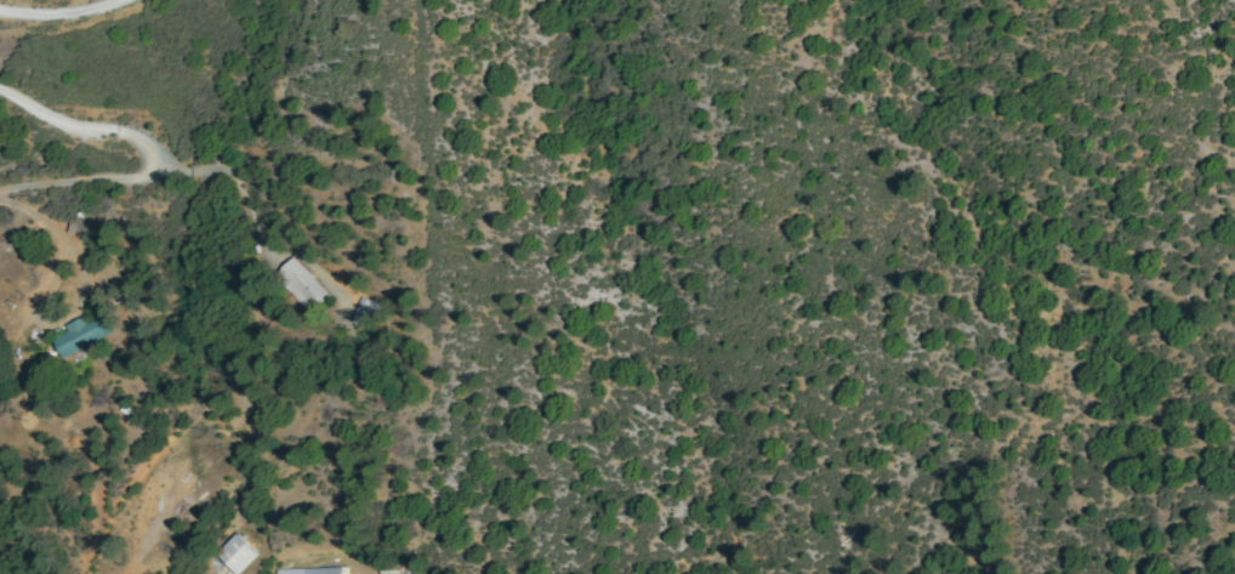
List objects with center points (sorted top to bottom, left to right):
road: (62, 17)
road: (147, 155)
building: (82, 228)
building: (308, 286)
building: (371, 314)
building: (81, 336)
building: (235, 555)
building: (395, 568)
building: (320, 570)

